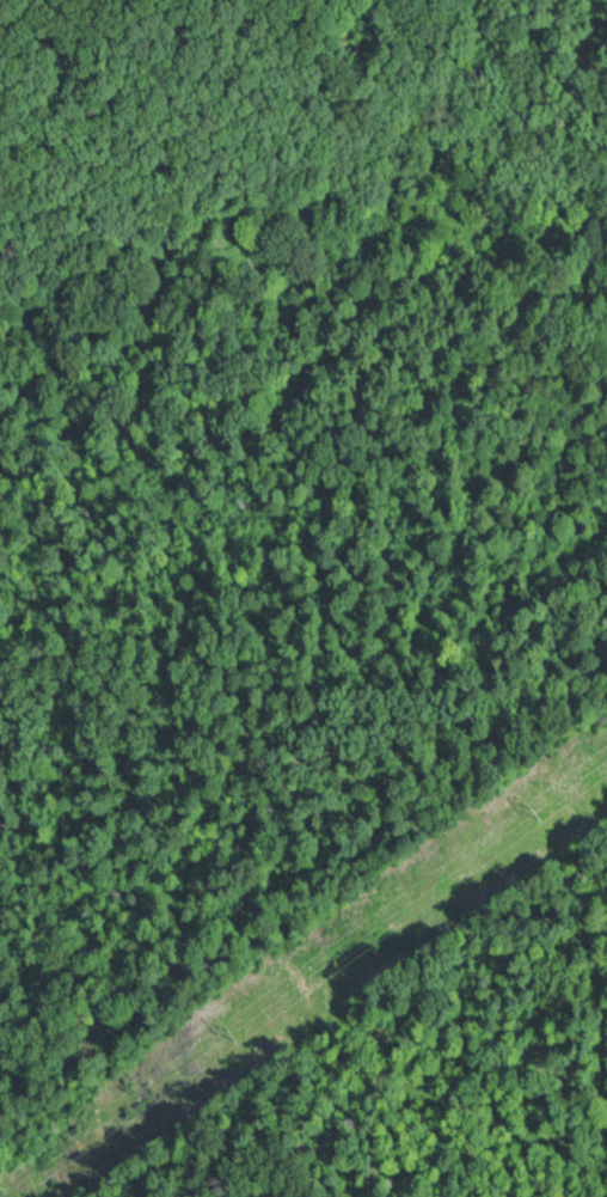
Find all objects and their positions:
power tower: (531, 810)

